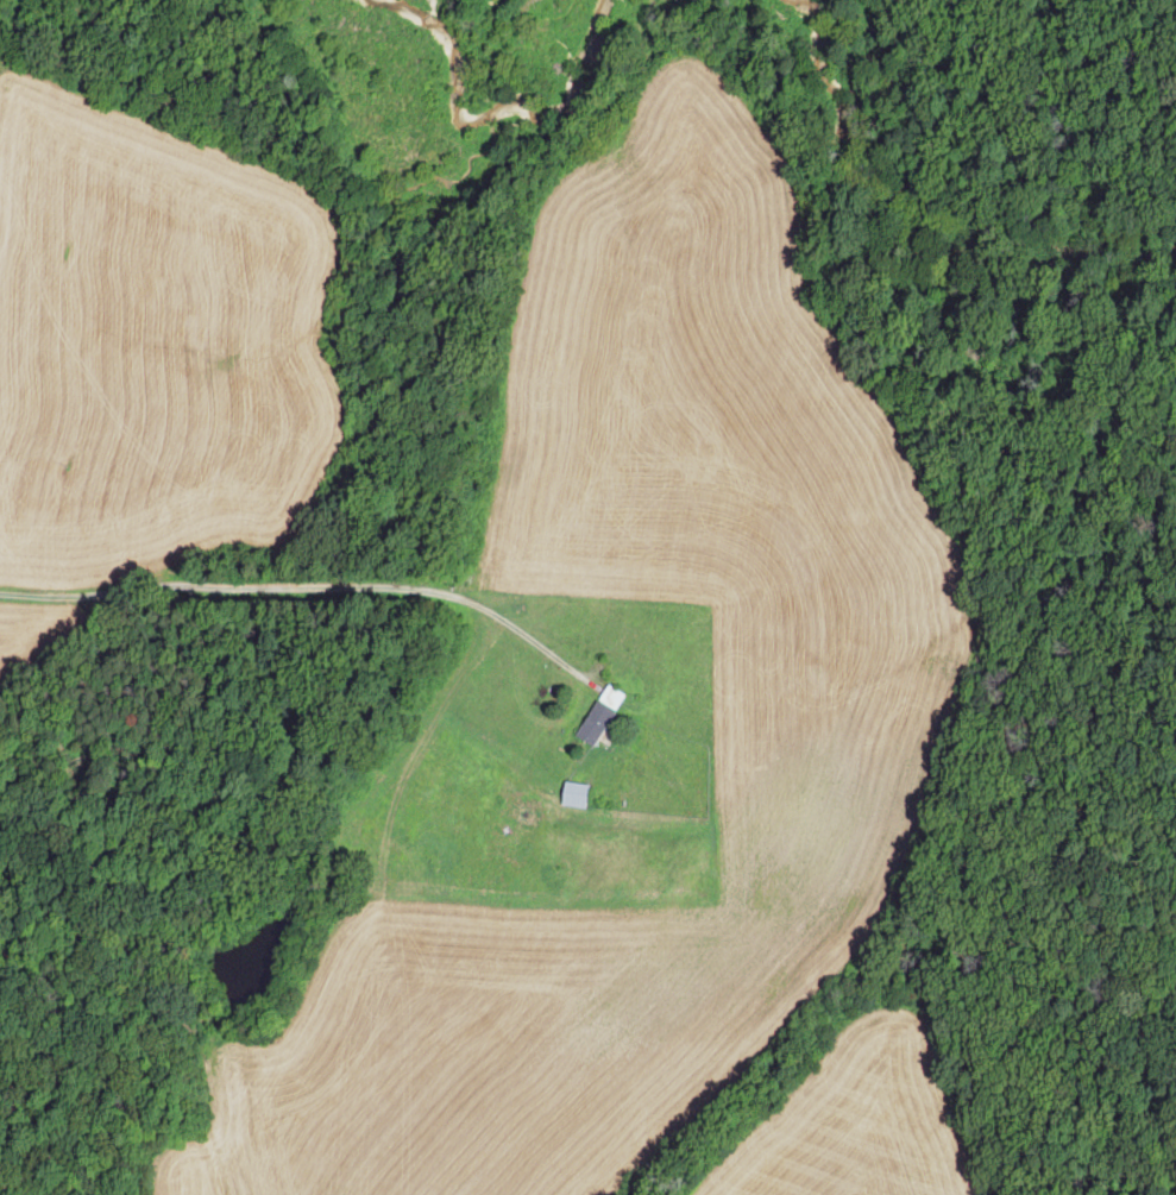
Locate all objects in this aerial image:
river: (417, 21)
river: (595, 61)
river: (835, 107)
river: (1036, 240)
road: (219, 587)
road: (520, 630)
building: (599, 715)
building: (578, 791)

